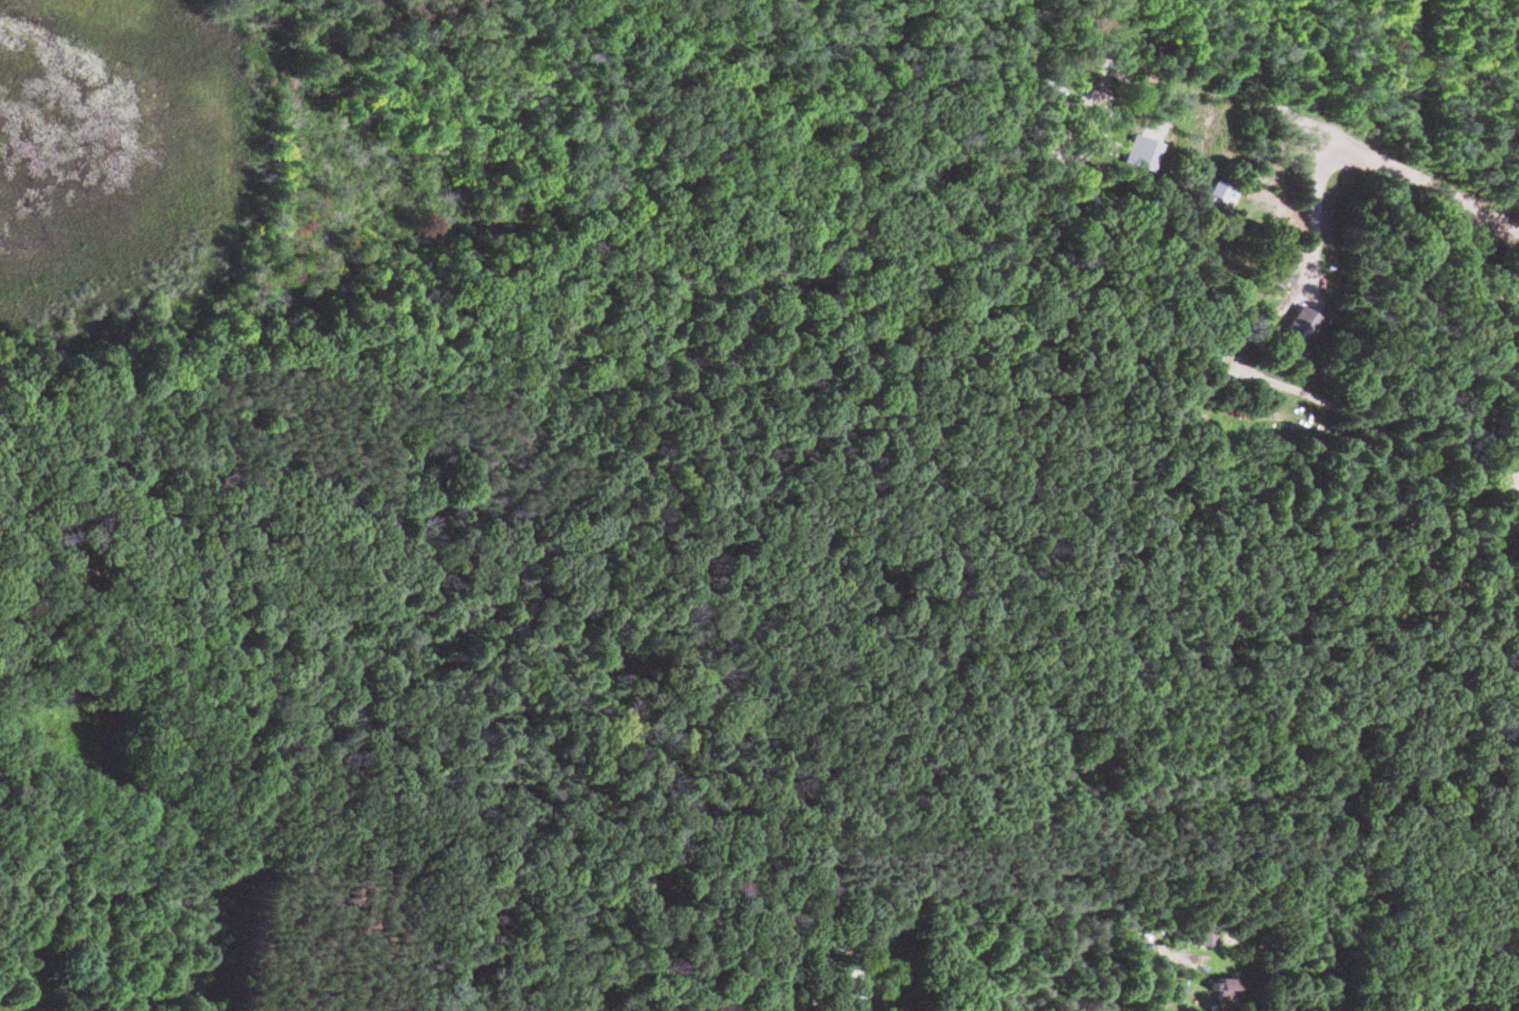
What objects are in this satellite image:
road: (1340, 134)
building: (1276, 269)

